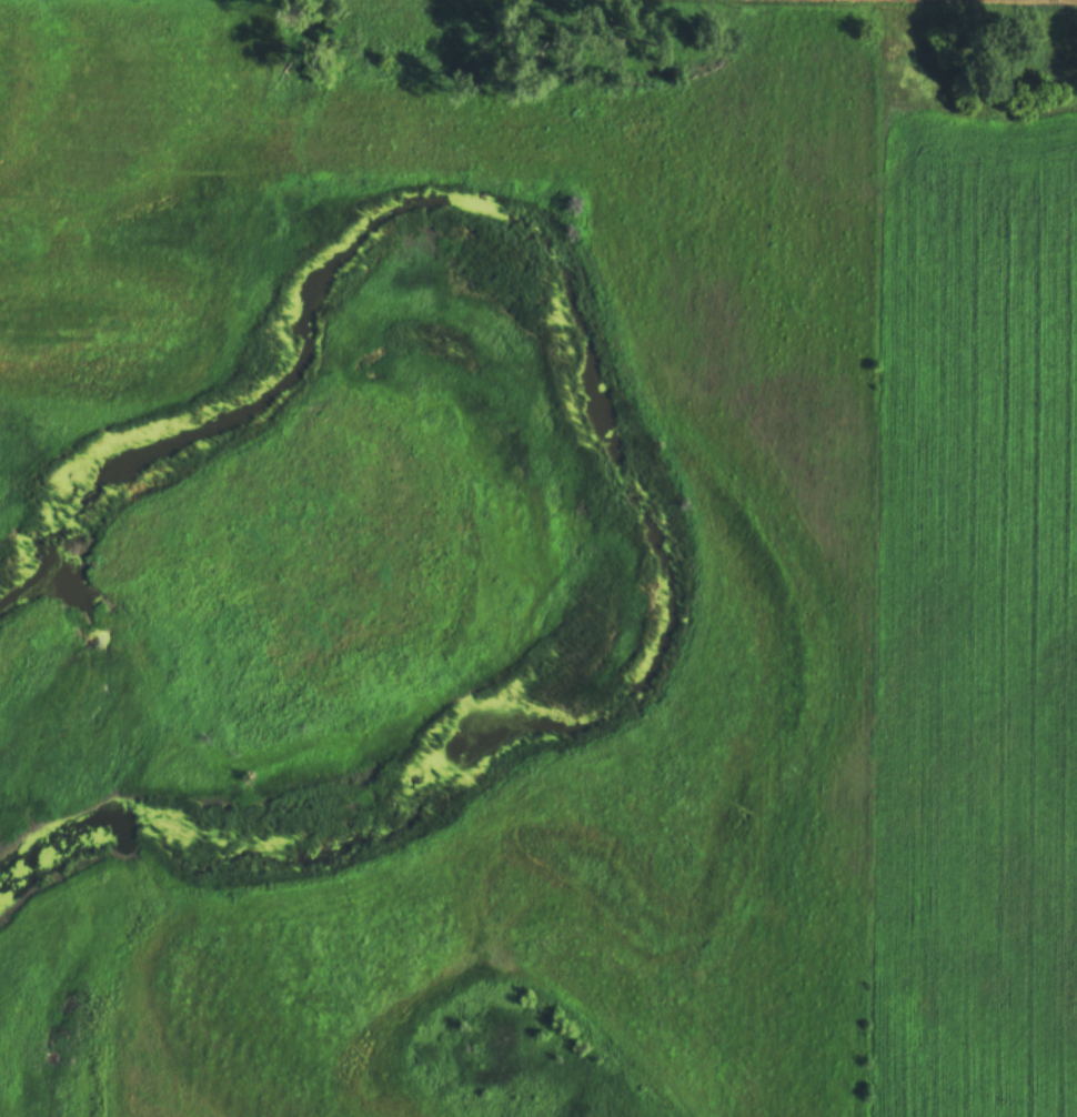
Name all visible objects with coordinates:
river: (657, 463)

